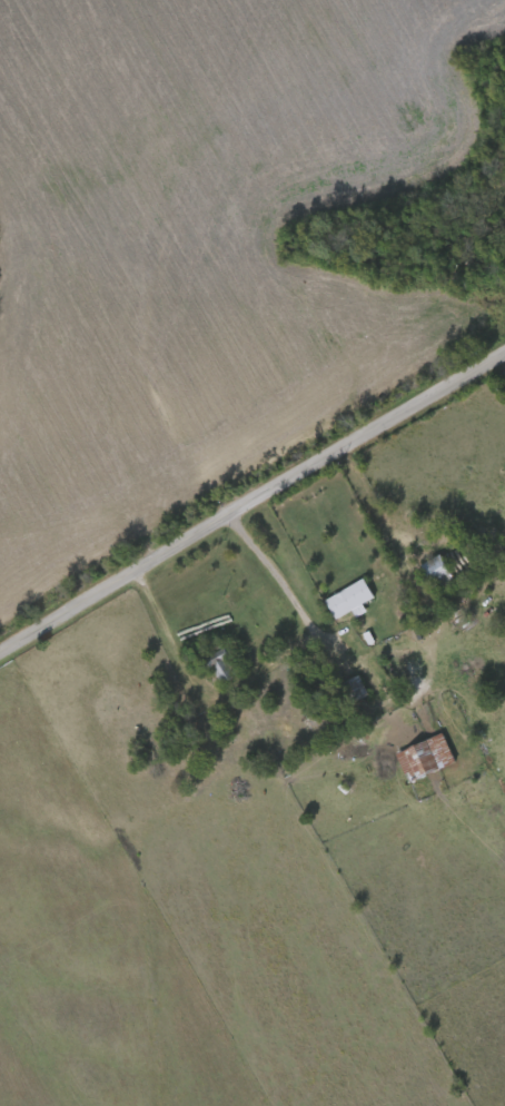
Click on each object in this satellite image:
road: (501, 372)
road: (251, 507)
building: (438, 571)
road: (414, 572)
road: (275, 573)
building: (351, 598)
building: (273, 608)
road: (168, 632)
building: (225, 668)
building: (358, 689)
building: (426, 757)

